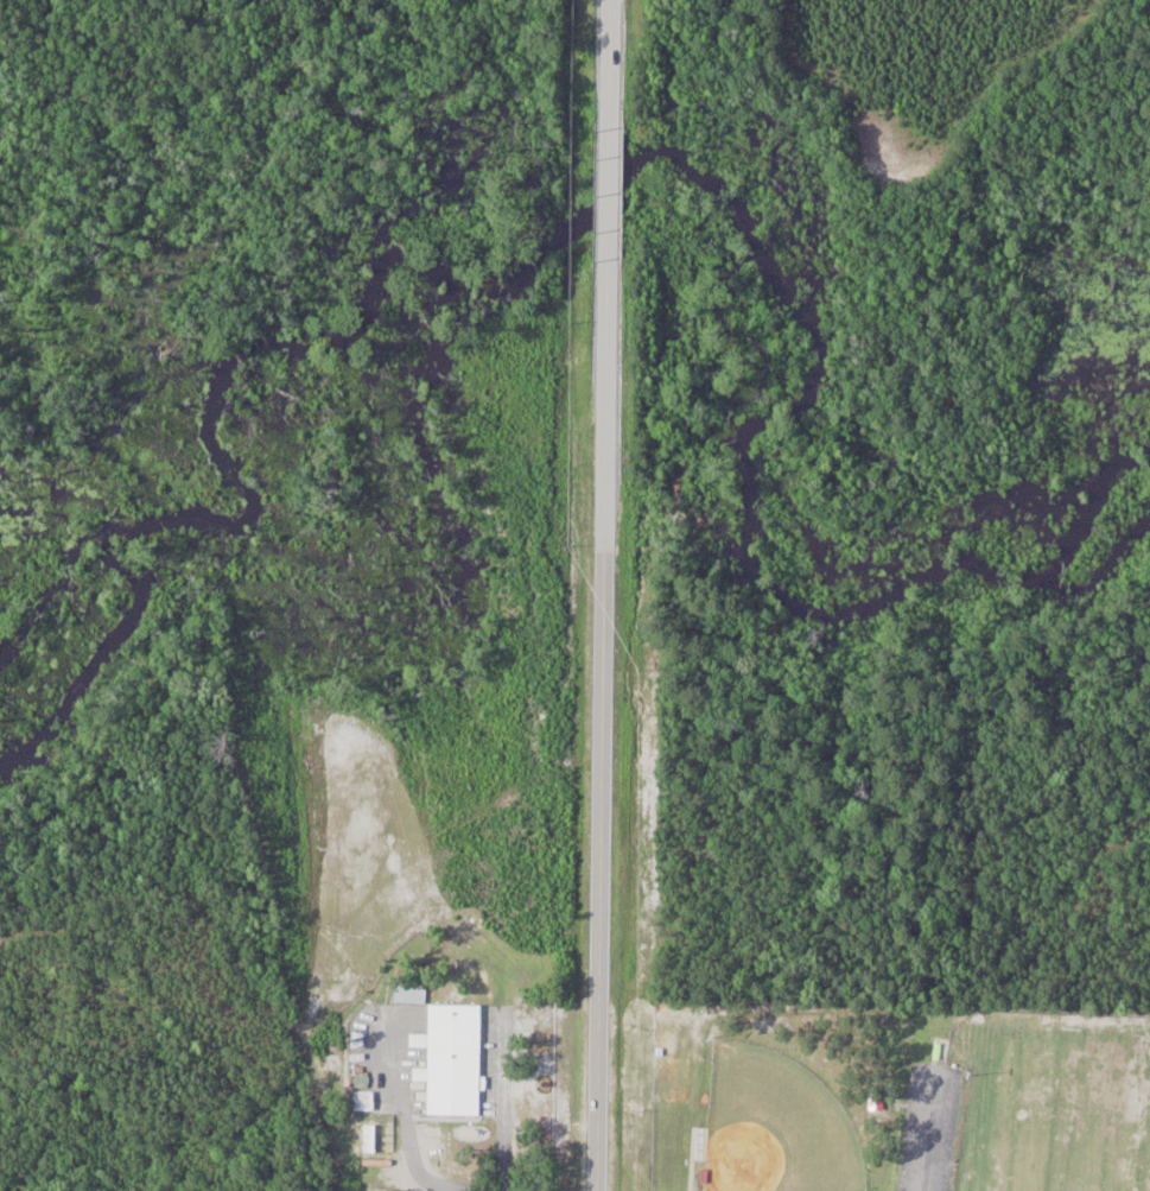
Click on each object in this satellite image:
road: (610, 59)
road: (610, 198)
road: (603, 734)
building: (412, 995)
building: (453, 1060)
park: (882, 1097)
building: (366, 1101)
road: (503, 1101)
park: (1067, 1113)
road: (406, 1120)
park: (775, 1126)
road: (926, 1134)

